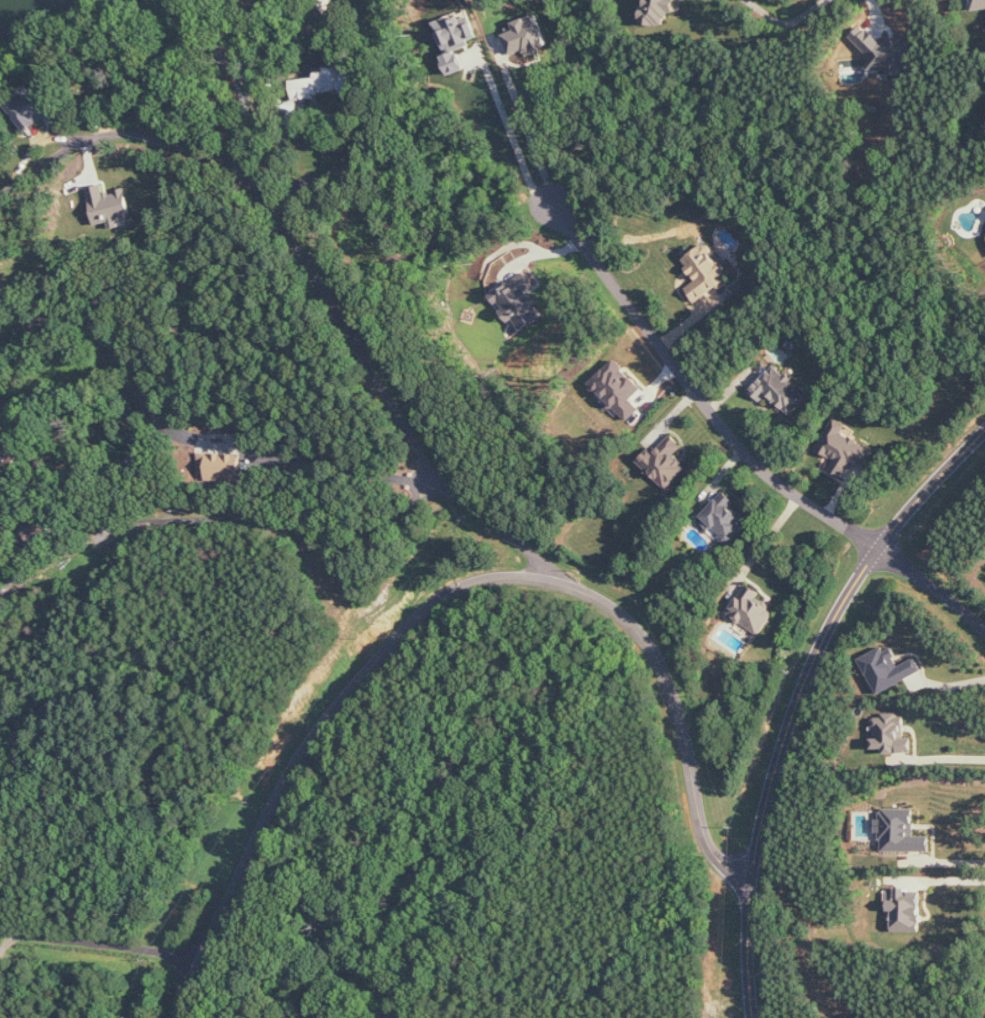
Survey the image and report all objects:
building: (979, 4)
building: (658, 12)
road: (787, 23)
building: (526, 37)
building: (885, 51)
building: (326, 83)
building: (29, 108)
road: (345, 117)
road: (530, 128)
road: (246, 130)
road: (513, 135)
building: (111, 206)
building: (705, 271)
road: (310, 278)
building: (519, 303)
building: (780, 389)
building: (618, 390)
road: (699, 392)
building: (844, 449)
road: (336, 461)
building: (666, 462)
building: (222, 467)
building: (725, 520)
road: (213, 532)
road: (766, 545)
road: (933, 585)
road: (438, 592)
building: (753, 611)
building: (889, 669)
road: (797, 693)
building: (892, 734)
road: (941, 756)
building: (901, 831)
road: (943, 860)
building: (906, 909)
road: (101, 941)

